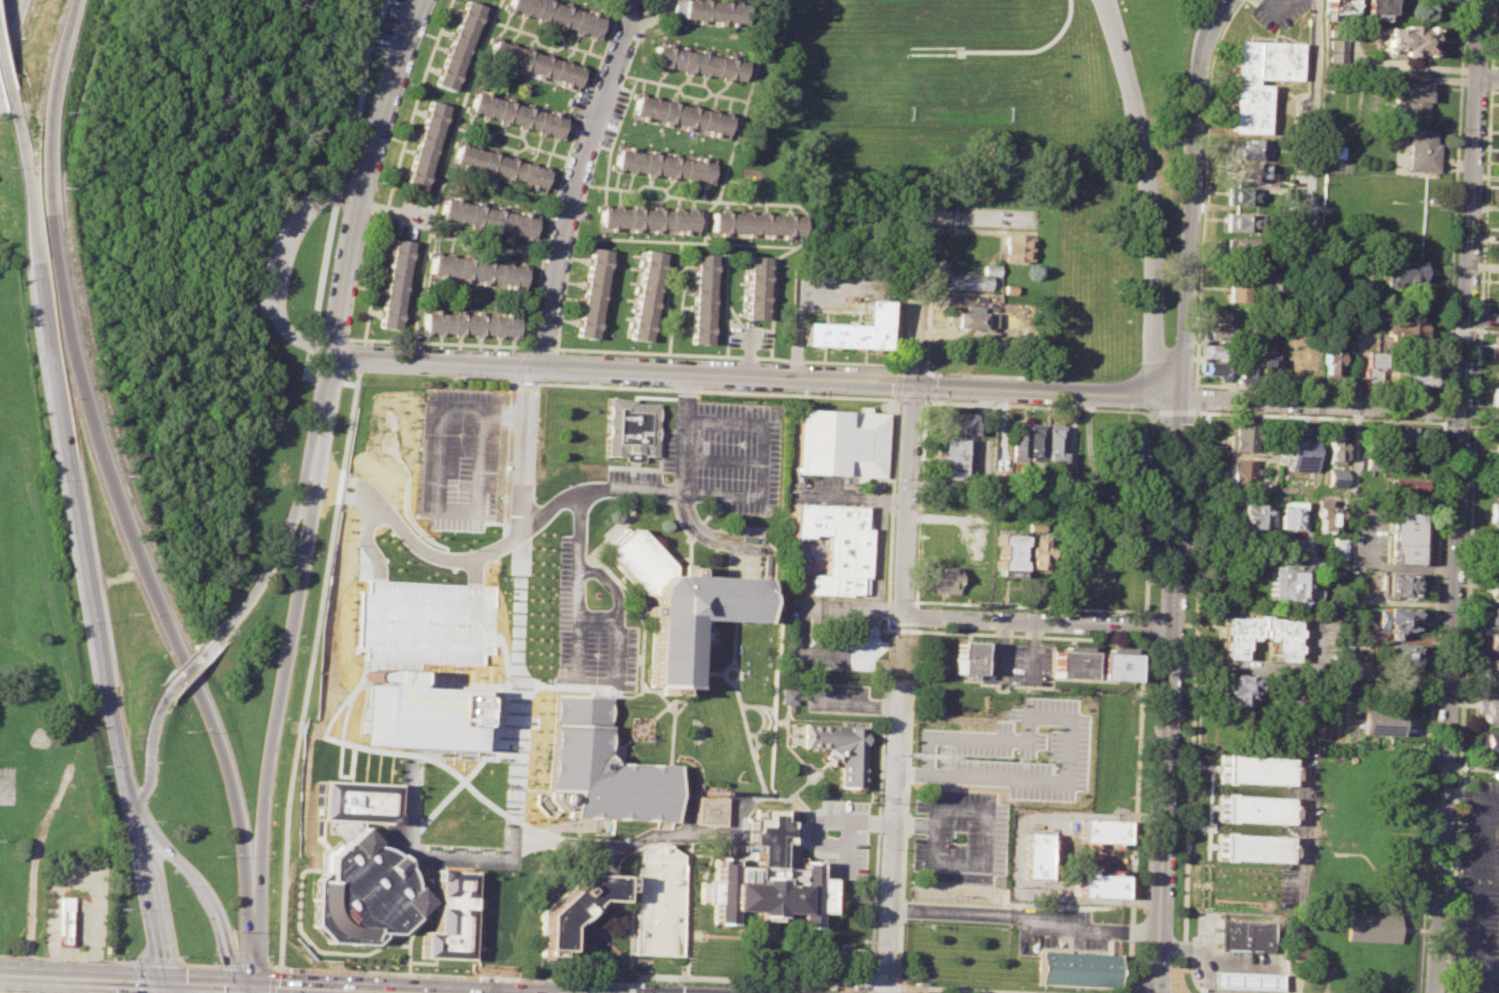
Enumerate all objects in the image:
road: (1274, 5)
building: (712, 9)
building: (1379, 9)
building: (1341, 10)
parking lot: (1280, 12)
building: (559, 14)
road: (8, 21)
road: (1490, 34)
building: (1404, 39)
building: (459, 44)
building: (1337, 49)
building: (535, 62)
building: (700, 62)
road: (1494, 66)
road: (3, 69)
road: (1488, 78)
road: (1489, 78)
building: (1259, 80)
road: (1494, 90)
building: (1410, 96)
road: (1314, 104)
building: (518, 114)
building: (682, 114)
park: (1005, 140)
building: (427, 146)
building: (1249, 148)
building: (1422, 150)
building: (664, 164)
building: (502, 166)
building: (1247, 170)
road: (442, 176)
road: (23, 177)
road: (578, 180)
road: (1204, 190)
road: (1150, 195)
building: (1244, 195)
road: (1194, 196)
road: (1483, 196)
road: (359, 199)
road: (652, 199)
road: (1453, 199)
building: (487, 217)
building: (649, 218)
road: (981, 218)
building: (1241, 221)
building: (756, 223)
road: (804, 228)
building: (1303, 230)
building: (1241, 245)
building: (1021, 248)
building: (1498, 254)
road: (276, 263)
building: (480, 269)
building: (1406, 269)
building: (396, 282)
building: (972, 282)
building: (1497, 284)
building: (757, 287)
building: (1238, 289)
building: (594, 292)
building: (647, 294)
building: (703, 298)
road: (918, 298)
building: (965, 301)
road: (1489, 302)
building: (1218, 315)
road: (1478, 315)
road: (1482, 315)
building: (975, 320)
building: (469, 323)
building: (1369, 323)
building: (1406, 328)
road: (1462, 329)
road: (1485, 329)
road: (1450, 330)
building: (857, 331)
building: (1221, 333)
building: (1495, 344)
road: (749, 350)
building: (1217, 350)
building: (1329, 358)
building: (1246, 363)
building: (1267, 364)
building: (1371, 366)
building: (1219, 368)
road: (623, 369)
road: (514, 371)
road: (977, 374)
building: (1414, 377)
park: (13, 378)
park: (206, 381)
road: (536, 382)
traffic signals: (914, 384)
road: (928, 387)
road: (720, 389)
road: (1320, 389)
road: (1046, 390)
building: (1493, 395)
road: (1200, 398)
road: (1320, 402)
road: (1444, 407)
road: (1176, 412)
road: (1205, 412)
road: (1151, 413)
building: (957, 423)
building: (631, 427)
building: (1493, 427)
road: (1473, 431)
road: (441, 432)
building: (1407, 436)
building: (1246, 437)
building: (1017, 440)
building: (1035, 440)
building: (842, 442)
building: (1054, 442)
building: (1131, 448)
building: (1332, 448)
building: (1495, 449)
building: (1299, 450)
road: (103, 452)
road: (762, 458)
road: (724, 459)
building: (952, 459)
park: (1, 469)
building: (1245, 471)
building: (1494, 475)
parking lot: (457, 477)
building: (1335, 477)
road: (685, 483)
building: (1087, 486)
building: (1401, 486)
road: (1459, 496)
road: (852, 497)
road: (672, 502)
road: (919, 502)
building: (1494, 511)
building: (1289, 512)
building: (1325, 513)
road: (1148, 515)
building: (1253, 517)
road: (940, 518)
road: (287, 521)
building: (1033, 528)
road: (577, 529)
road: (694, 532)
road: (83, 533)
building: (1404, 534)
road: (1483, 536)
road: (1468, 542)
building: (835, 543)
road: (1478, 544)
building: (1337, 548)
road: (1483, 548)
road: (1255, 550)
building: (1032, 552)
building: (1005, 554)
road: (875, 555)
parking lot: (571, 558)
road: (679, 558)
building: (1491, 564)
building: (941, 579)
road: (618, 582)
building: (1293, 582)
road: (1199, 584)
building: (1400, 584)
building: (1489, 590)
road: (615, 599)
road: (518, 602)
building: (680, 603)
road: (500, 609)
road: (854, 610)
road: (887, 612)
road: (1144, 614)
road: (913, 615)
building: (1491, 615)
building: (1391, 619)
road: (1037, 620)
park: (1, 622)
road: (1143, 626)
road: (1027, 635)
building: (1238, 637)
building: (1488, 642)
road: (796, 643)
road: (285, 646)
road: (573, 648)
road: (614, 649)
building: (1402, 655)
road: (880, 657)
building: (969, 657)
road: (196, 658)
road: (310, 661)
building: (1073, 664)
road: (1263, 665)
building: (1117, 666)
road: (711, 671)
road: (1015, 672)
building: (1349, 672)
building: (1489, 672)
park: (44, 679)
building: (1240, 688)
road: (897, 689)
road: (630, 694)
building: (787, 695)
road: (1170, 695)
parking lot: (838, 697)
road: (1430, 705)
road: (678, 706)
road: (667, 707)
building: (1487, 710)
building: (414, 712)
road: (786, 712)
road: (743, 713)
road: (763, 715)
building: (1380, 716)
road: (650, 718)
road: (770, 722)
road: (670, 731)
building: (1486, 743)
road: (150, 748)
building: (840, 749)
road: (803, 765)
building: (600, 767)
road: (817, 767)
building: (1256, 768)
road: (1457, 770)
road: (816, 776)
building: (357, 799)
road: (801, 800)
road: (796, 804)
road: (904, 805)
building: (1255, 807)
building: (709, 809)
road: (1481, 811)
road: (1134, 814)
road: (442, 817)
road: (506, 823)
building: (1103, 829)
parking lot: (835, 832)
road: (522, 833)
parking lot: (958, 836)
road: (875, 837)
building: (1253, 846)
road: (618, 847)
building: (1037, 854)
road: (1468, 860)
road: (974, 863)
road: (1296, 875)
building: (765, 878)
road: (1488, 880)
road: (687, 883)
building: (1101, 885)
road: (148, 889)
parking lot: (1478, 892)
road: (203, 893)
building: (364, 893)
road: (434, 901)
building: (657, 901)
road: (631, 904)
building: (577, 905)
road: (609, 912)
road: (1023, 915)
road: (1241, 915)
building: (452, 917)
building: (62, 920)
parking lot: (1057, 927)
building: (1370, 928)
road: (614, 931)
building: (1245, 934)
road: (252, 935)
road: (785, 937)
road: (1474, 938)
flagpole: (844, 948)
road: (1182, 948)
traffic signals: (226, 949)
road: (322, 952)
road: (684, 955)
road: (759, 956)
traffic signals: (161, 957)
road: (424, 961)
road: (258, 966)
building: (1077, 969)
road: (82, 975)
traffic signals: (136, 978)
road: (580, 979)
road: (208, 981)
building: (1245, 981)
gas station: (1245, 981)
road: (883, 984)
road: (175, 985)
traffic signals: (278, 985)
road: (166, 986)
road: (630, 987)
road: (251, 988)
road: (345, 988)
road: (843, 988)
road: (966, 989)
road: (375, 991)
road: (15, 992)

